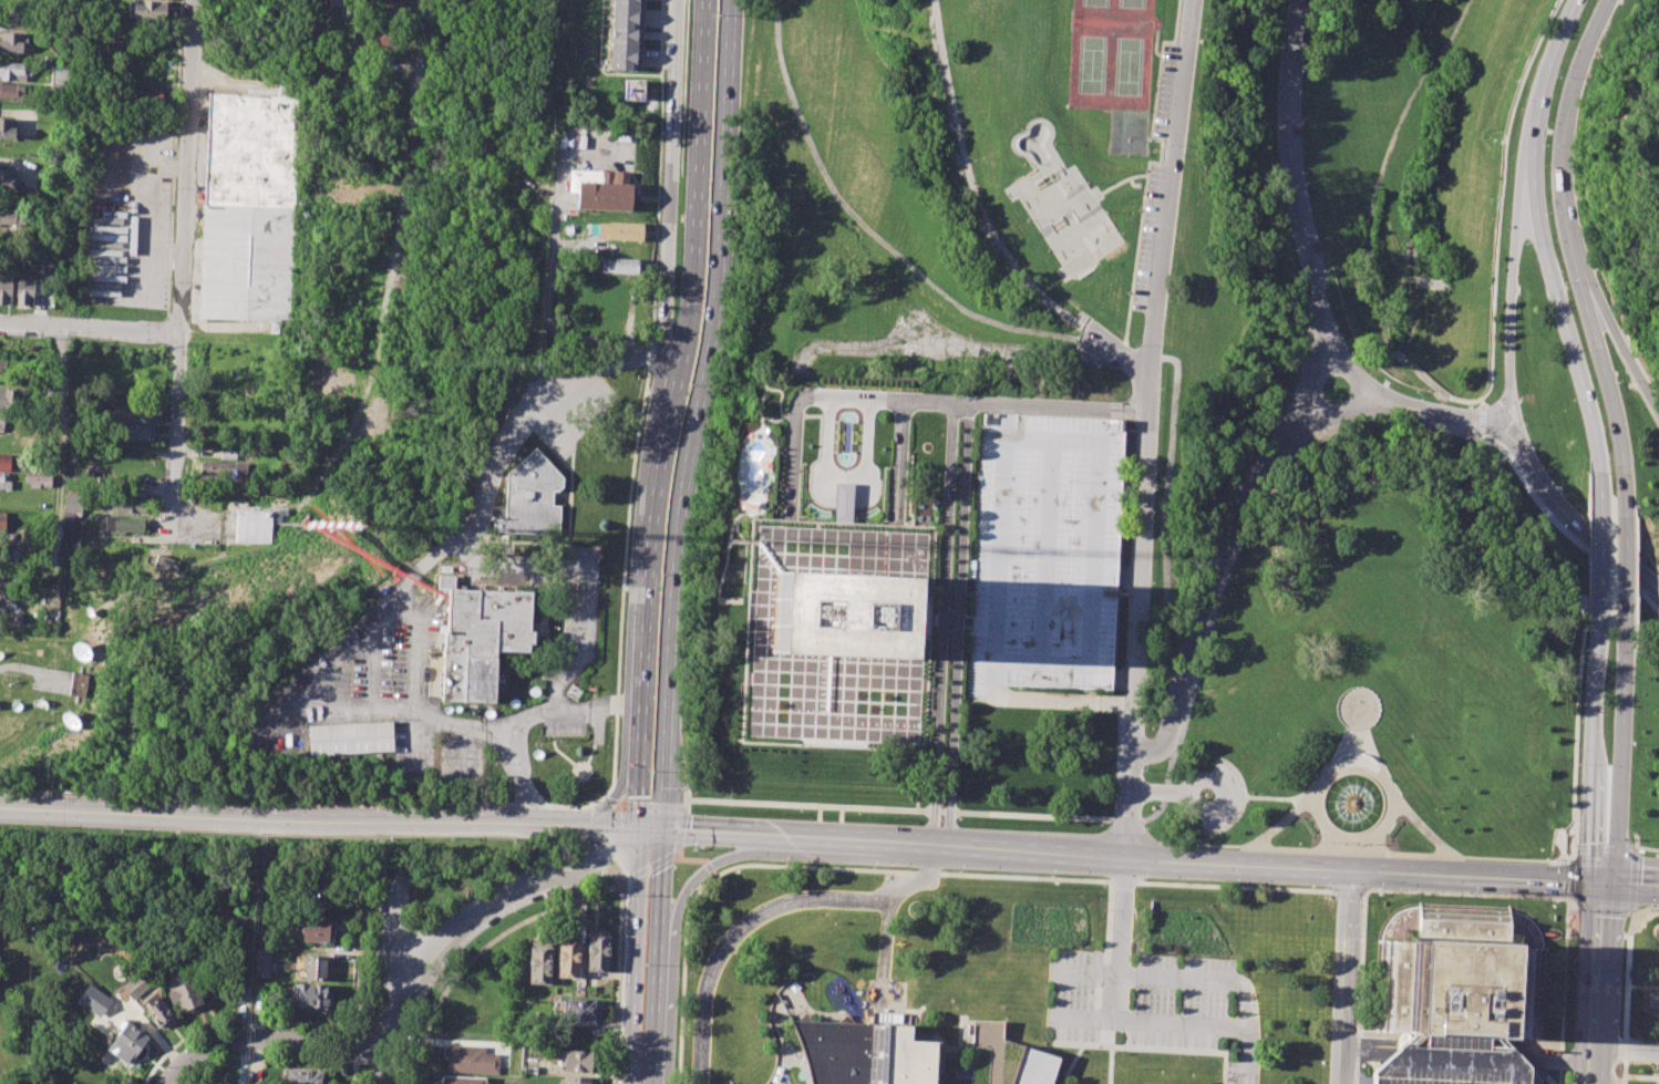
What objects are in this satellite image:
building: (331, 2)
building: (151, 10)
street lamp: (715, 14)
building: (390, 17)
road: (936, 19)
building: (627, 34)
building: (378, 37)
building: (12, 42)
street lamp: (664, 44)
park: (1112, 54)
road: (421, 59)
building: (12, 71)
street lamp: (1305, 73)
road: (1425, 73)
building: (61, 75)
road: (1545, 75)
street lamp: (1558, 76)
building: (12, 90)
building: (633, 90)
street lamp: (178, 92)
building: (145, 96)
road: (1565, 122)
building: (7, 127)
park: (1130, 132)
street lamp: (1546, 147)
street lamp: (1162, 148)
street lamp: (980, 162)
street lamp: (1652, 171)
street lamp: (1306, 174)
building: (7, 178)
road: (1296, 182)
road: (1657, 182)
building: (601, 188)
street lamp: (174, 189)
road: (1500, 189)
road: (668, 202)
road: (977, 203)
park: (1061, 203)
street lamp: (708, 204)
road: (699, 205)
building: (254, 206)
street lamp: (1548, 216)
building: (9, 219)
parking lot: (132, 230)
building: (617, 230)
street lamp: (658, 241)
street lamp: (1526, 242)
road: (893, 251)
building: (617, 265)
road: (181, 267)
street lamp: (1327, 273)
street lamp: (1564, 281)
building: (6, 285)
street lamp: (171, 285)
building: (25, 287)
road: (1512, 290)
road: (1379, 308)
road: (1563, 313)
road: (223, 327)
road: (1616, 328)
road: (90, 330)
street lamp: (1515, 332)
street lamp: (1, 337)
road: (1099, 338)
street lamp: (68, 342)
street lamp: (165, 345)
street lamp: (1134, 345)
street lamp: (1353, 349)
park: (1279, 365)
road: (1605, 375)
road: (1150, 376)
road: (1307, 380)
street lamp: (1294, 383)
street lamp: (690, 384)
street lamp: (1420, 391)
street lamp: (1162, 393)
building: (7, 398)
road: (1361, 398)
road: (913, 400)
road: (641, 401)
road: (1481, 401)
road: (700, 403)
road: (528, 412)
building: (132, 413)
road: (1436, 413)
road: (1481, 419)
road: (61, 420)
building: (4, 423)
street lamp: (1525, 423)
street lamp: (185, 424)
parking lot: (530, 429)
building: (131, 432)
road: (1478, 433)
street lamp: (1323, 435)
road: (1505, 450)
building: (4, 462)
road: (900, 462)
building: (220, 471)
building: (32, 477)
road: (1268, 479)
building: (4, 482)
street lamp: (1156, 484)
road: (844, 486)
street lamp: (1265, 494)
street lamp: (181, 496)
building: (530, 498)
building: (73, 502)
building: (843, 502)
building: (130, 503)
road: (1572, 520)
building: (2, 522)
building: (126, 524)
building: (251, 526)
road: (1164, 528)
road: (1575, 539)
road: (1599, 540)
building: (836, 551)
building: (1047, 553)
parking garage: (1047, 553)
road: (1625, 558)
road: (647, 565)
street lamp: (660, 576)
parking lot: (544, 579)
street lamp: (578, 584)
road: (410, 585)
road: (1213, 586)
building: (6, 588)
street lamp: (1222, 598)
building: (838, 615)
building: (10, 618)
road: (941, 624)
road: (956, 627)
building: (480, 638)
road: (418, 653)
street lamp: (1148, 673)
street lamp: (580, 674)
parking lot: (372, 681)
building: (78, 683)
street lamp: (1197, 688)
road: (525, 713)
road: (1338, 715)
road: (1576, 715)
road: (507, 723)
road: (1357, 733)
building: (351, 739)
street lamp: (563, 739)
road: (1594, 746)
road: (1618, 751)
street lamp: (495, 763)
road: (1353, 765)
street lamp: (1144, 767)
street lamp: (652, 768)
road: (638, 778)
road: (687, 785)
road: (621, 787)
road: (1153, 789)
road: (1311, 793)
street lamp: (62, 794)
road: (1218, 795)
parking lot: (1227, 795)
road: (1255, 796)
street lamp: (164, 799)
road: (609, 799)
street lamp: (482, 802)
street lamp: (377, 803)
road: (617, 804)
fountain: (1353, 804)
street lamp: (272, 805)
road: (673, 806)
road: (1126, 806)
road: (894, 809)
road: (286, 816)
road: (649, 817)
road: (662, 818)
road: (1125, 819)
road: (1230, 823)
road: (604, 827)
street lamp: (1147, 828)
traffic signals: (636, 829)
road: (649, 829)
traffic signals: (662, 830)
road: (1133, 832)
road: (731, 834)
road: (1350, 836)
street lamp: (389, 838)
road: (1635, 838)
road: (1326, 839)
street lamp: (1635, 839)
flagpole: (1333, 842)
road: (1378, 842)
road: (1562, 842)
flagpole: (1346, 843)
flagpole: (1358, 843)
road: (617, 844)
flagpole: (1370, 844)
road: (1635, 846)
road: (1604, 847)
road: (1647, 847)
street lamp: (693, 848)
road: (962, 849)
road: (1361, 851)
road: (1570, 854)
street lamp: (1555, 858)
road: (695, 859)
road: (591, 863)
road: (713, 863)
street lamp: (785, 863)
road: (931, 865)
road: (1237, 865)
street lamp: (873, 867)
road: (647, 869)
street lamp: (959, 870)
street lamp: (1051, 875)
road: (1030, 877)
road: (1474, 877)
street lamp: (1143, 879)
road: (1569, 879)
road: (1631, 879)
traffic signals: (1599, 882)
road: (1629, 882)
street lamp: (1235, 884)
road: (617, 885)
street lamp: (1325, 887)
street lamp: (1378, 889)
street lamp: (1472, 894)
street lamp: (913, 896)
building: (313, 897)
street lamp: (1366, 901)
road: (1572, 904)
road: (1603, 907)
street lamp: (1569, 909)
road: (1643, 909)
street lamp: (1650, 909)
road: (1122, 916)
road: (756, 917)
street lamp: (834, 922)
building: (316, 929)
road: (1347, 932)
street lamp: (1132, 938)
road: (886, 941)
road: (477, 949)
building: (597, 949)
road: (1105, 949)
road: (422, 954)
building: (568, 956)
road: (631, 957)
road: (656, 957)
road: (359, 960)
street lamp: (643, 962)
building: (539, 963)
building: (261, 964)
building: (315, 967)
road: (1083, 971)
building: (1457, 975)
road: (1230, 980)
road: (1596, 983)
road: (616, 984)
road: (1360, 988)
building: (131, 990)
road: (1563, 990)
building: (238, 991)
building: (185, 994)
building: (310, 994)
parking lot: (885, 994)
street lamp: (728, 995)
road: (1626, 997)
street lamp: (1130, 998)
building: (93, 1000)
street lamp: (1362, 1000)
street lamp: (1229, 1004)
parking lot: (1156, 1005)
building: (580, 1009)
road: (133, 1010)
building: (158, 1011)
road: (1081, 1018)
road: (1158, 1022)
road: (930, 1033)
road: (268, 1039)
road: (1342, 1040)
building: (126, 1041)
road: (354, 1042)
road: (1068, 1042)
street lamp: (947, 1043)
road: (957, 1046)
road: (1147, 1046)
road: (1626, 1050)
building: (834, 1051)
street lamp: (1073, 1051)
street lamp: (1121, 1053)
road: (266, 1056)
street lamp: (1177, 1056)
building: (906, 1057)
building: (1007, 1057)
building: (470, 1060)
building: (1460, 1060)
parking garage: (1460, 1060)
building: (580, 1061)
road: (1110, 1064)
road: (353, 1067)
building: (305, 1076)
street lamp: (1218, 1078)
building: (461, 1080)
building: (579, 1080)
building: (208, 1083)

